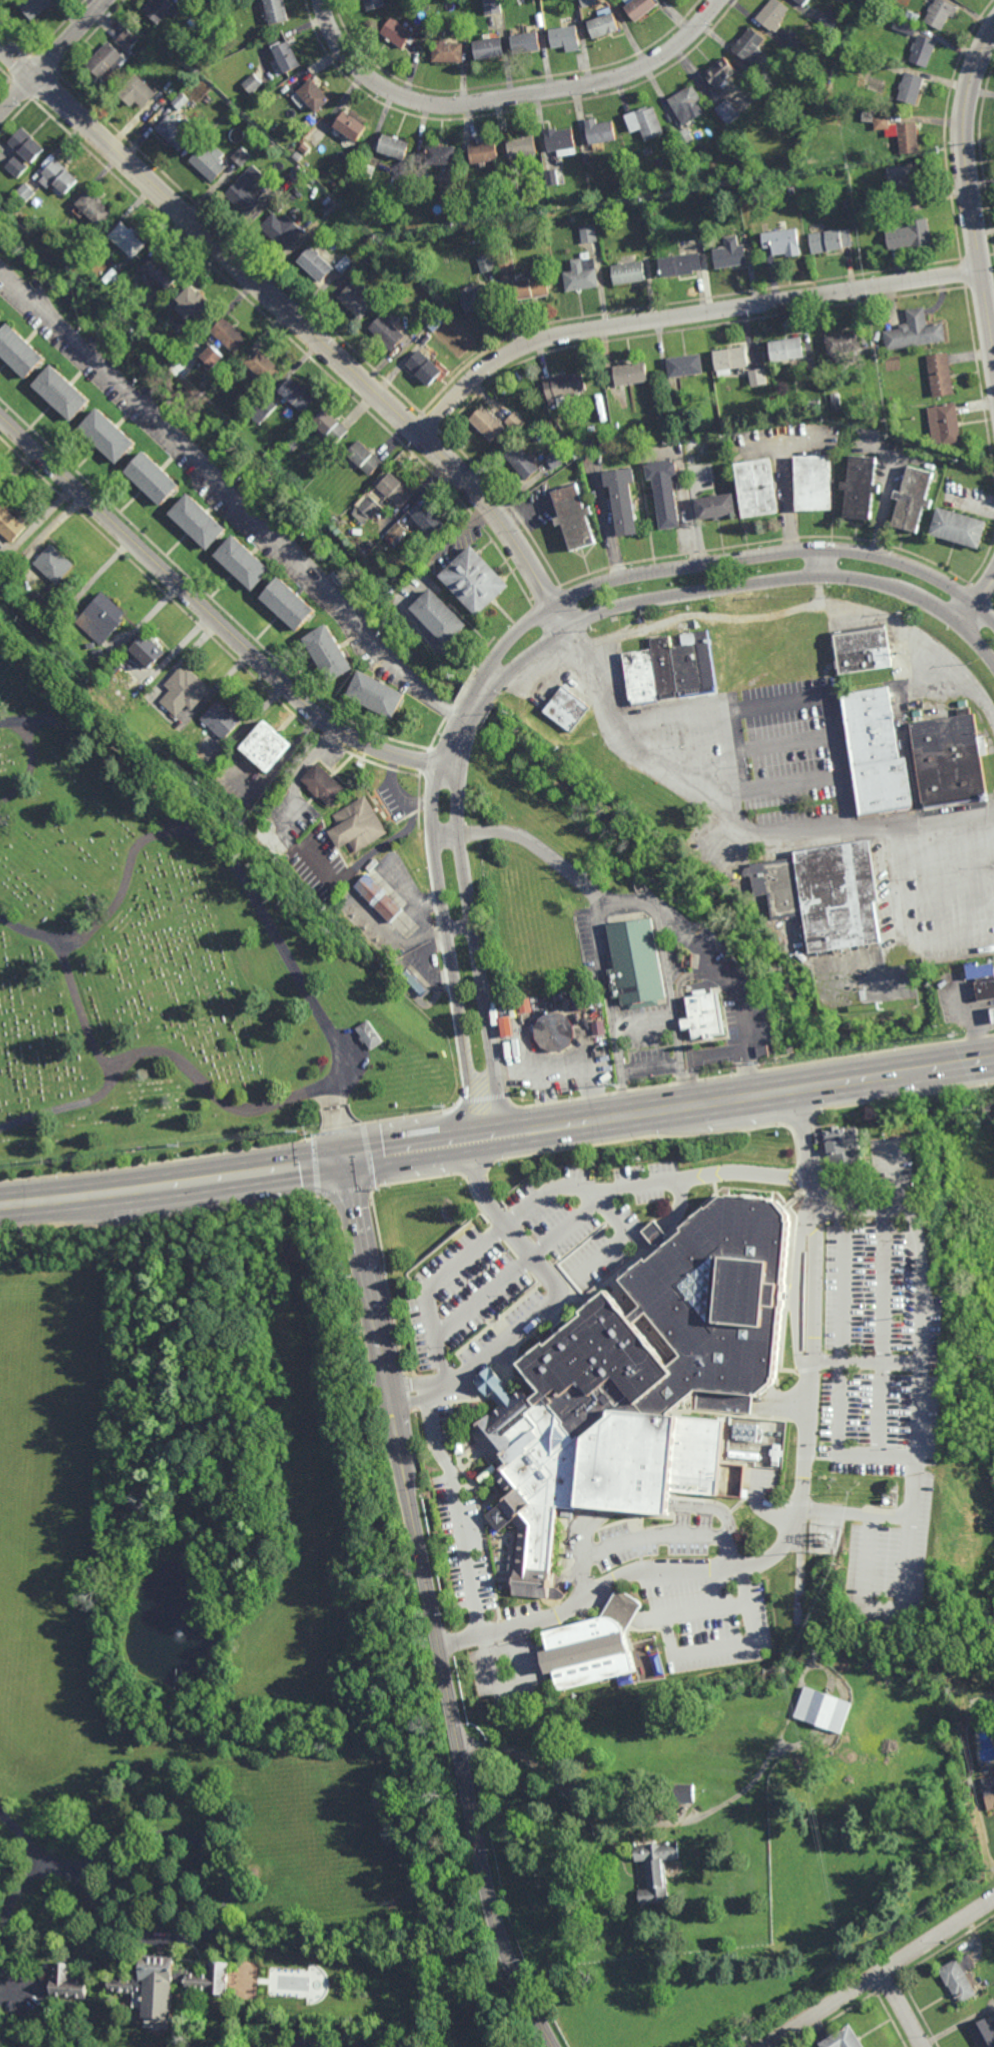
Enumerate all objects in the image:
building: (802, 2)
building: (588, 3)
building: (375, 4)
building: (36, 7)
building: (491, 7)
building: (640, 8)
building: (161, 10)
building: (192, 10)
building: (277, 10)
building: (902, 11)
building: (940, 13)
building: (771, 16)
building: (581, 18)
building: (829, 20)
building: (604, 24)
building: (904, 26)
building: (438, 32)
building: (398, 33)
building: (435, 38)
building: (566, 38)
building: (128, 40)
building: (527, 44)
building: (800, 48)
building: (489, 49)
building: (922, 50)
building: (750, 52)
building: (448, 53)
road: (54, 55)
building: (287, 56)
building: (109, 62)
building: (720, 73)
building: (207, 83)
building: (253, 84)
building: (287, 88)
building: (910, 88)
building: (140, 93)
building: (314, 96)
road: (509, 97)
building: (181, 101)
building: (686, 105)
building: (728, 112)
building: (314, 118)
building: (880, 122)
building: (645, 123)
building: (349, 128)
building: (177, 131)
building: (601, 132)
building: (908, 138)
building: (685, 139)
building: (561, 140)
building: (522, 145)
building: (277, 146)
building: (393, 146)
building: (356, 149)
building: (484, 150)
building: (23, 152)
building: (440, 154)
building: (241, 155)
building: (586, 157)
building: (209, 161)
building: (366, 170)
building: (401, 172)
building: (59, 176)
building: (552, 176)
building: (907, 183)
building: (247, 189)
building: (790, 190)
building: (26, 191)
road: (968, 192)
building: (847, 202)
building: (95, 206)
building: (278, 207)
building: (862, 207)
building: (282, 227)
building: (468, 228)
building: (587, 234)
building: (911, 235)
building: (129, 238)
building: (831, 240)
building: (783, 241)
building: (730, 256)
building: (485, 262)
building: (505, 262)
building: (316, 263)
building: (344, 263)
building: (679, 264)
building: (360, 265)
building: (163, 270)
building: (627, 272)
building: (581, 273)
building: (111, 275)
building: (531, 286)
building: (103, 288)
building: (477, 296)
building: (357, 299)
building: (195, 302)
building: (152, 307)
building: (0, 314)
road: (683, 315)
building: (0, 316)
road: (298, 322)
building: (386, 331)
building: (915, 331)
building: (230, 333)
building: (843, 342)
building: (170, 348)
building: (787, 348)
building: (19, 350)
building: (213, 355)
building: (730, 359)
building: (265, 365)
building: (685, 365)
building: (424, 367)
building: (801, 368)
building: (630, 373)
building: (940, 374)
building: (227, 377)
building: (757, 377)
building: (564, 388)
building: (63, 392)
building: (298, 394)
building: (835, 403)
building: (814, 404)
building: (668, 405)
building: (263, 410)
building: (784, 410)
building: (514, 421)
building: (488, 422)
building: (251, 423)
building: (944, 424)
building: (332, 425)
building: (614, 426)
building: (109, 435)
road: (802, 443)
building: (292, 445)
building: (364, 457)
building: (555, 458)
building: (522, 461)
road: (786, 476)
building: (153, 477)
building: (814, 482)
building: (860, 487)
building: (757, 488)
building: (396, 489)
building: (664, 490)
road: (229, 493)
building: (622, 499)
building: (912, 499)
road: (886, 505)
building: (715, 506)
building: (370, 507)
road: (687, 508)
building: (573, 517)
building: (199, 520)
building: (431, 521)
building: (11, 523)
building: (958, 527)
building: (397, 530)
building: (388, 538)
building: (383, 541)
building: (243, 562)
building: (54, 563)
road: (680, 566)
building: (476, 581)
building: (35, 592)
road: (703, 592)
road: (818, 594)
road: (976, 602)
building: (288, 603)
building: (57, 605)
road: (811, 611)
road: (204, 612)
building: (440, 617)
building: (102, 618)
road: (429, 637)
building: (859, 649)
building: (147, 650)
building: (330, 654)
building: (670, 668)
building: (183, 691)
building: (377, 695)
road: (787, 708)
building: (566, 709)
building: (221, 719)
road: (113, 744)
building: (265, 746)
road: (739, 750)
building: (874, 753)
building: (949, 759)
road: (450, 765)
road: (30, 771)
building: (324, 784)
road: (733, 819)
building: (357, 825)
road: (533, 842)
road: (237, 877)
building: (823, 895)
building: (378, 897)
road: (625, 907)
road: (424, 918)
road: (899, 923)
road: (478, 952)
park: (160, 953)
road: (451, 953)
road: (430, 964)
building: (636, 964)
building: (978, 968)
building: (414, 981)
road: (738, 988)
building: (985, 988)
road: (79, 1009)
building: (993, 1011)
building: (702, 1014)
road: (643, 1022)
building: (506, 1026)
building: (598, 1028)
building: (554, 1032)
power tower: (957, 1033)
building: (368, 1034)
road: (720, 1053)
road: (167, 1058)
power tower: (762, 1063)
road: (693, 1081)
power tower: (610, 1087)
power tower: (446, 1109)
road: (669, 1110)
power tower: (309, 1132)
power tower: (186, 1145)
power tower: (49, 1158)
traffic signals: (346, 1161)
road: (896, 1174)
road: (173, 1183)
road: (554, 1187)
road: (569, 1222)
road: (613, 1241)
parking lot: (533, 1274)
road: (884, 1283)
road: (842, 1285)
road: (482, 1297)
road: (549, 1306)
road: (868, 1360)
road: (922, 1371)
building: (657, 1385)
parking lot: (868, 1407)
road: (882, 1407)
road: (840, 1443)
road: (801, 1502)
road: (458, 1510)
road: (646, 1536)
road: (596, 1600)
road: (882, 1606)
road: (713, 1608)
road: (432, 1609)
road: (622, 1611)
building: (598, 1648)
road: (713, 1652)
building: (823, 1708)
building: (993, 1768)
building: (988, 1791)
building: (682, 1793)
road: (624, 1819)
road: (25, 1841)
building: (656, 1870)
road: (229, 1899)
road: (9, 1917)
road: (876, 1970)
road: (24, 1983)
building: (961, 1983)
building: (68, 1984)
building: (169, 1986)
road: (903, 2007)
road: (919, 2011)
road: (890, 2020)
building: (985, 2034)
building: (843, 2040)
building: (312, 2042)

